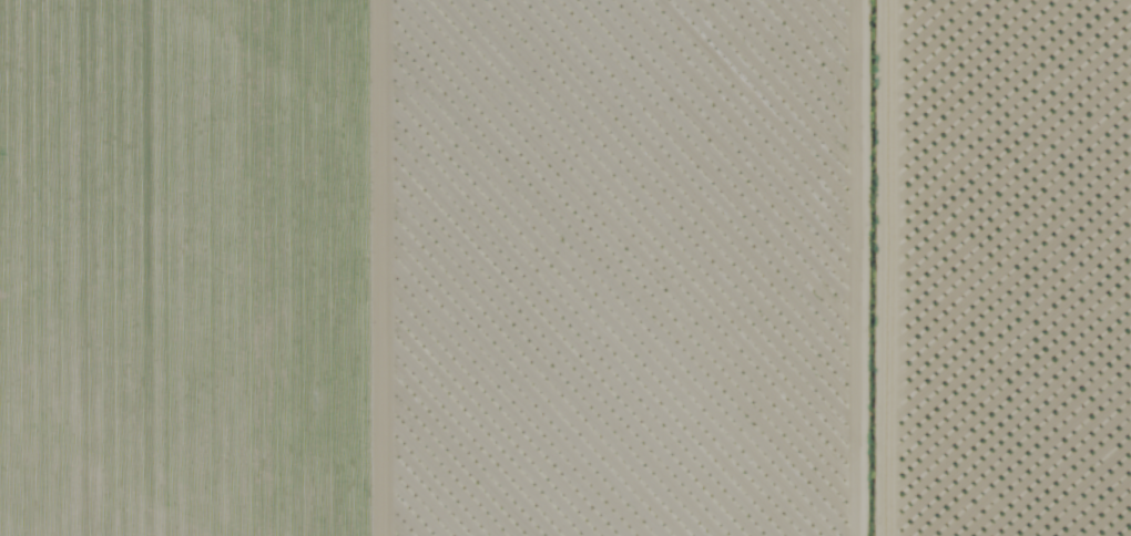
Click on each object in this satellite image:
crop: (1001, 267)
crop: (410, 268)
road: (867, 268)

